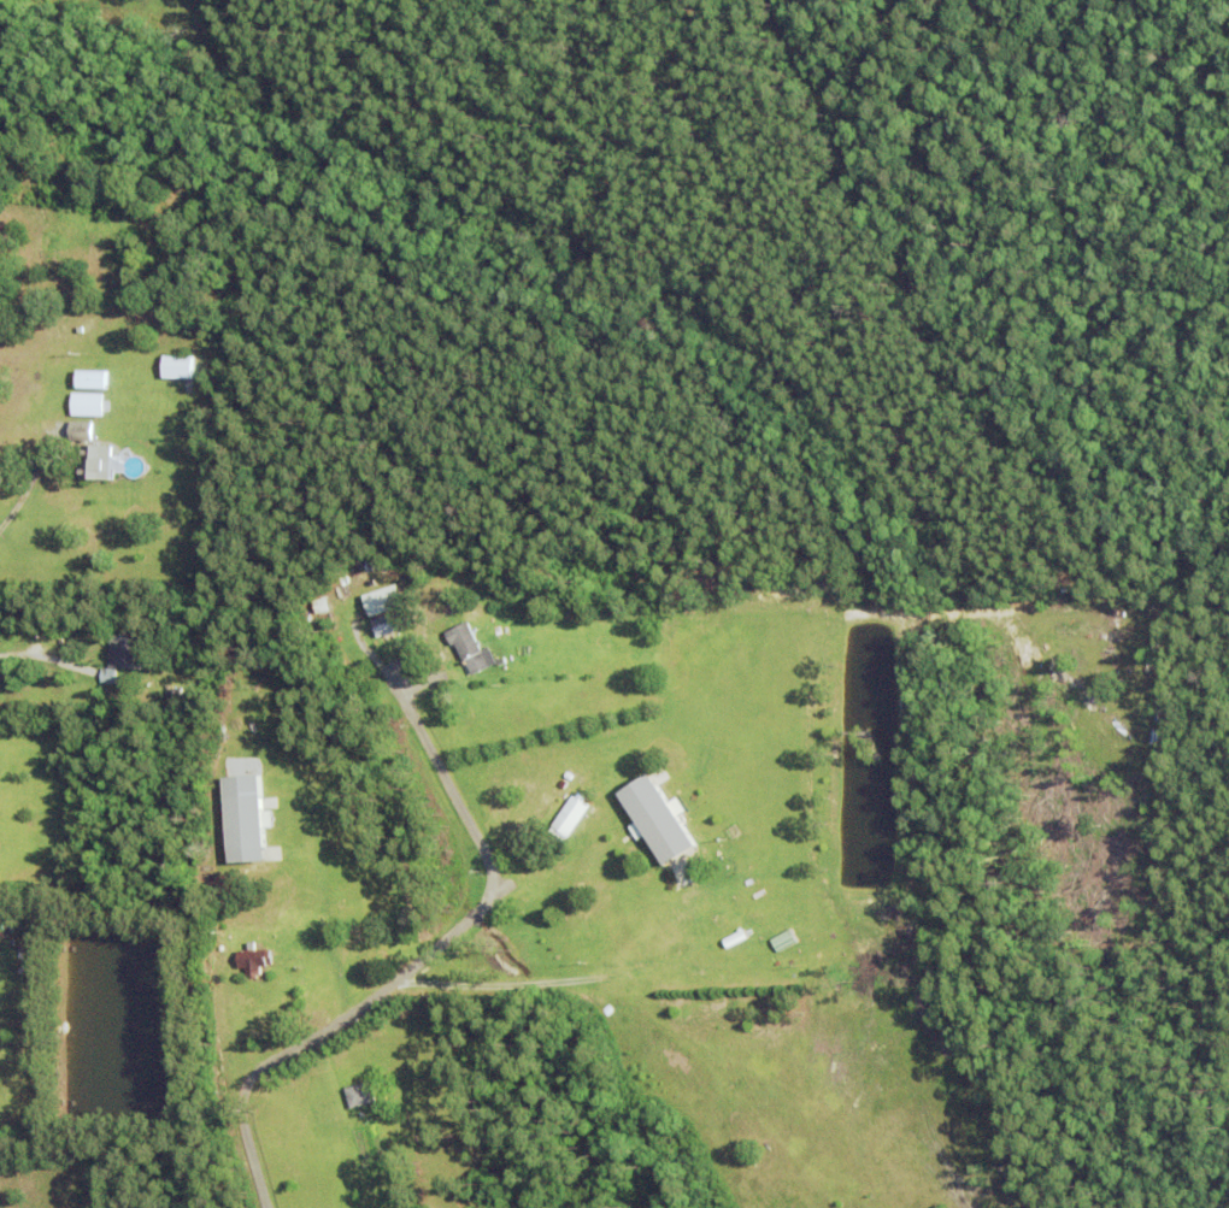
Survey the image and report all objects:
building: (177, 371)
building: (90, 383)
building: (87, 407)
building: (80, 432)
building: (93, 466)
road: (12, 512)
building: (386, 599)
building: (392, 620)
building: (470, 644)
building: (123, 649)
building: (171, 691)
building: (564, 782)
building: (572, 811)
building: (658, 814)
building: (247, 815)
building: (783, 939)
building: (765, 954)
building: (254, 957)
road: (424, 959)
building: (355, 1074)
building: (359, 1092)
building: (351, 1122)

